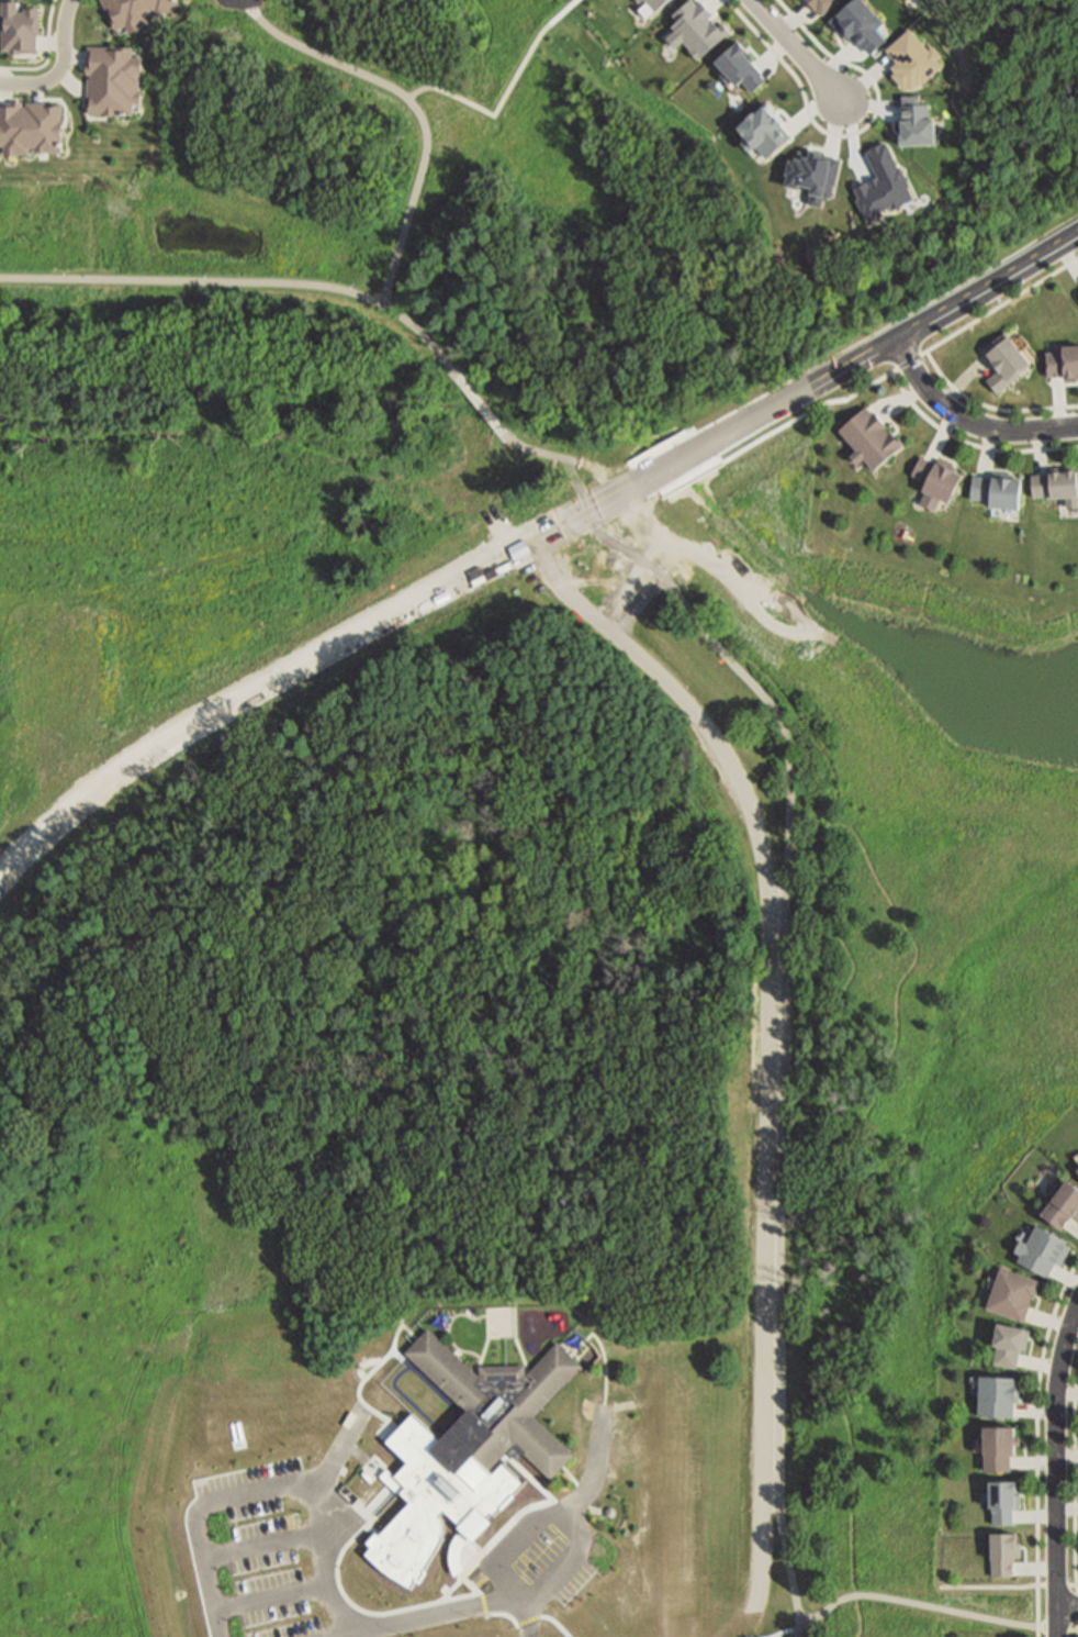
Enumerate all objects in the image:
building: (137, 10)
building: (19, 26)
road: (799, 52)
road: (49, 55)
road: (64, 68)
building: (113, 78)
road: (504, 93)
road: (413, 107)
building: (31, 127)
road: (852, 136)
park: (499, 168)
park: (204, 274)
road: (225, 282)
road: (955, 334)
road: (442, 358)
building: (1006, 363)
building: (1064, 366)
road: (473, 398)
road: (990, 408)
road: (223, 410)
road: (967, 419)
building: (869, 442)
road: (970, 444)
building: (937, 482)
road: (608, 487)
building: (1055, 487)
building: (996, 495)
road: (529, 541)
park: (830, 645)
road: (833, 1082)
road: (784, 1100)
building: (1060, 1203)
road: (1070, 1224)
building: (1046, 1251)
road: (1067, 1276)
building: (1009, 1291)
road: (1047, 1315)
park: (503, 1323)
road: (1074, 1324)
road: (450, 1329)
building: (1006, 1343)
road: (484, 1354)
road: (524, 1356)
road: (400, 1357)
road: (606, 1357)
road: (1037, 1360)
road: (366, 1365)
road: (373, 1372)
road: (1067, 1391)
building: (995, 1394)
road: (1033, 1407)
road: (363, 1412)
road: (448, 1430)
building: (993, 1446)
road: (1037, 1447)
building: (469, 1452)
road: (1056, 1452)
road: (1042, 1457)
road: (597, 1474)
building: (1006, 1502)
road: (1076, 1506)
road: (1067, 1507)
road: (592, 1508)
road: (195, 1514)
building: (613, 1514)
road: (362, 1515)
road: (1036, 1517)
road: (539, 1521)
road: (265, 1547)
parking lot: (258, 1555)
building: (1007, 1557)
road: (491, 1561)
parking lot: (538, 1561)
road: (1038, 1569)
road: (465, 1582)
road: (1057, 1585)
road: (1077, 1586)
road: (334, 1588)
road: (990, 1589)
road: (448, 1596)
road: (271, 1601)
road: (335, 1604)
road: (1068, 1605)
road: (927, 1606)
road: (528, 1621)
road: (550, 1621)
road: (1058, 1621)
road: (1064, 1629)
road: (1074, 1630)
road: (790, 1632)
road: (347, 1636)

